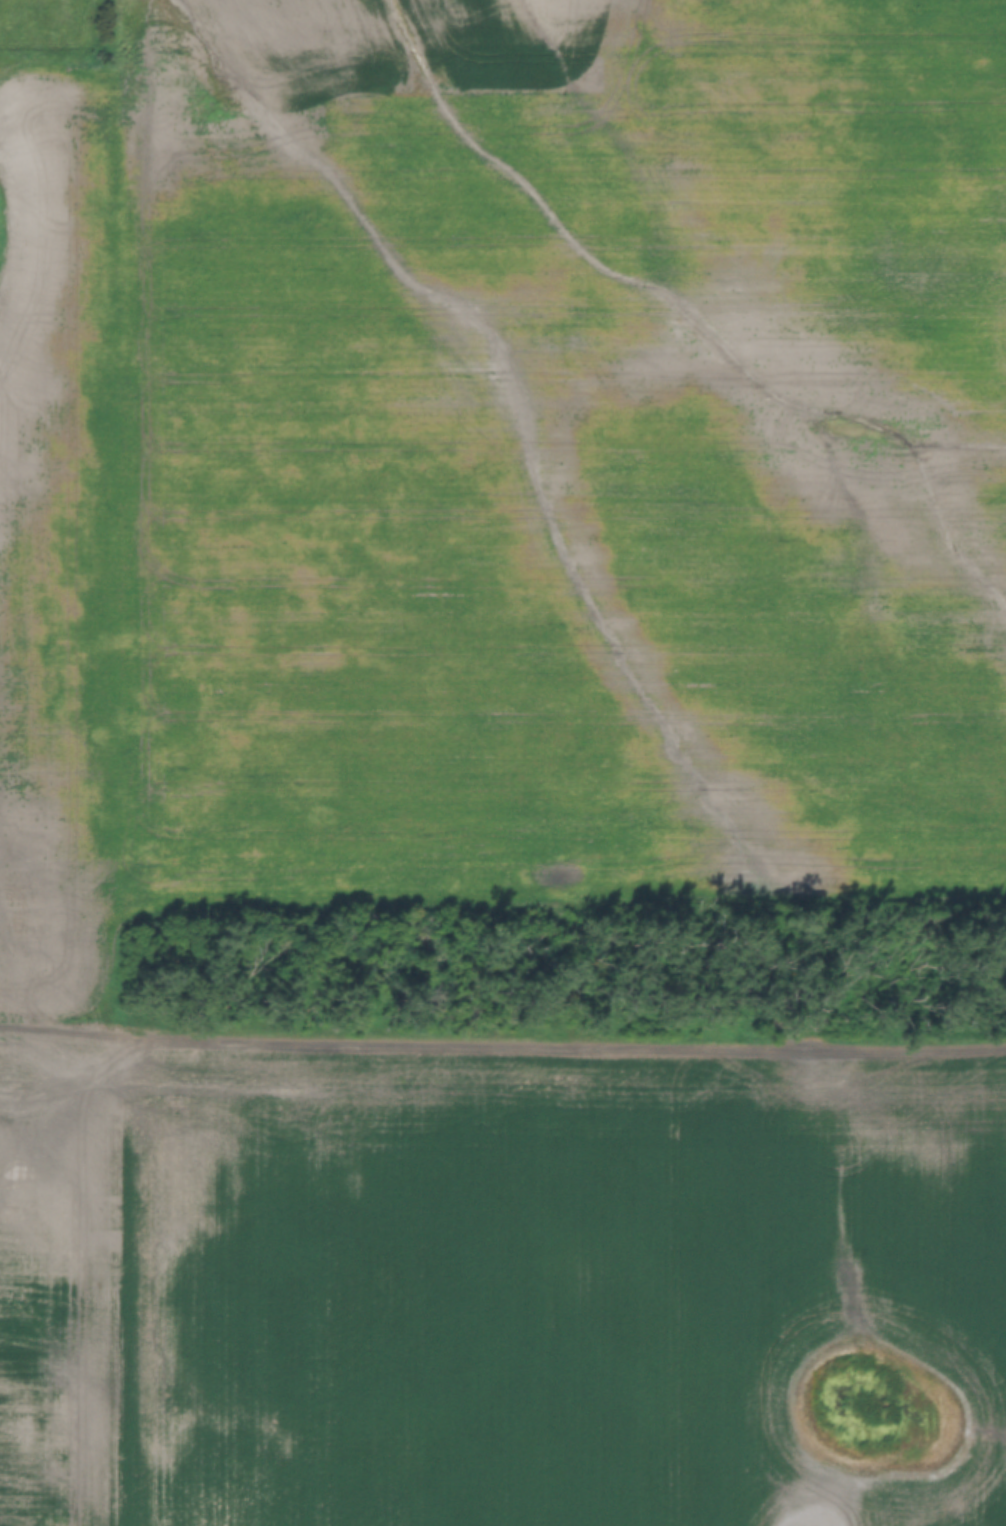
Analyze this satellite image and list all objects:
road: (594, 1047)

